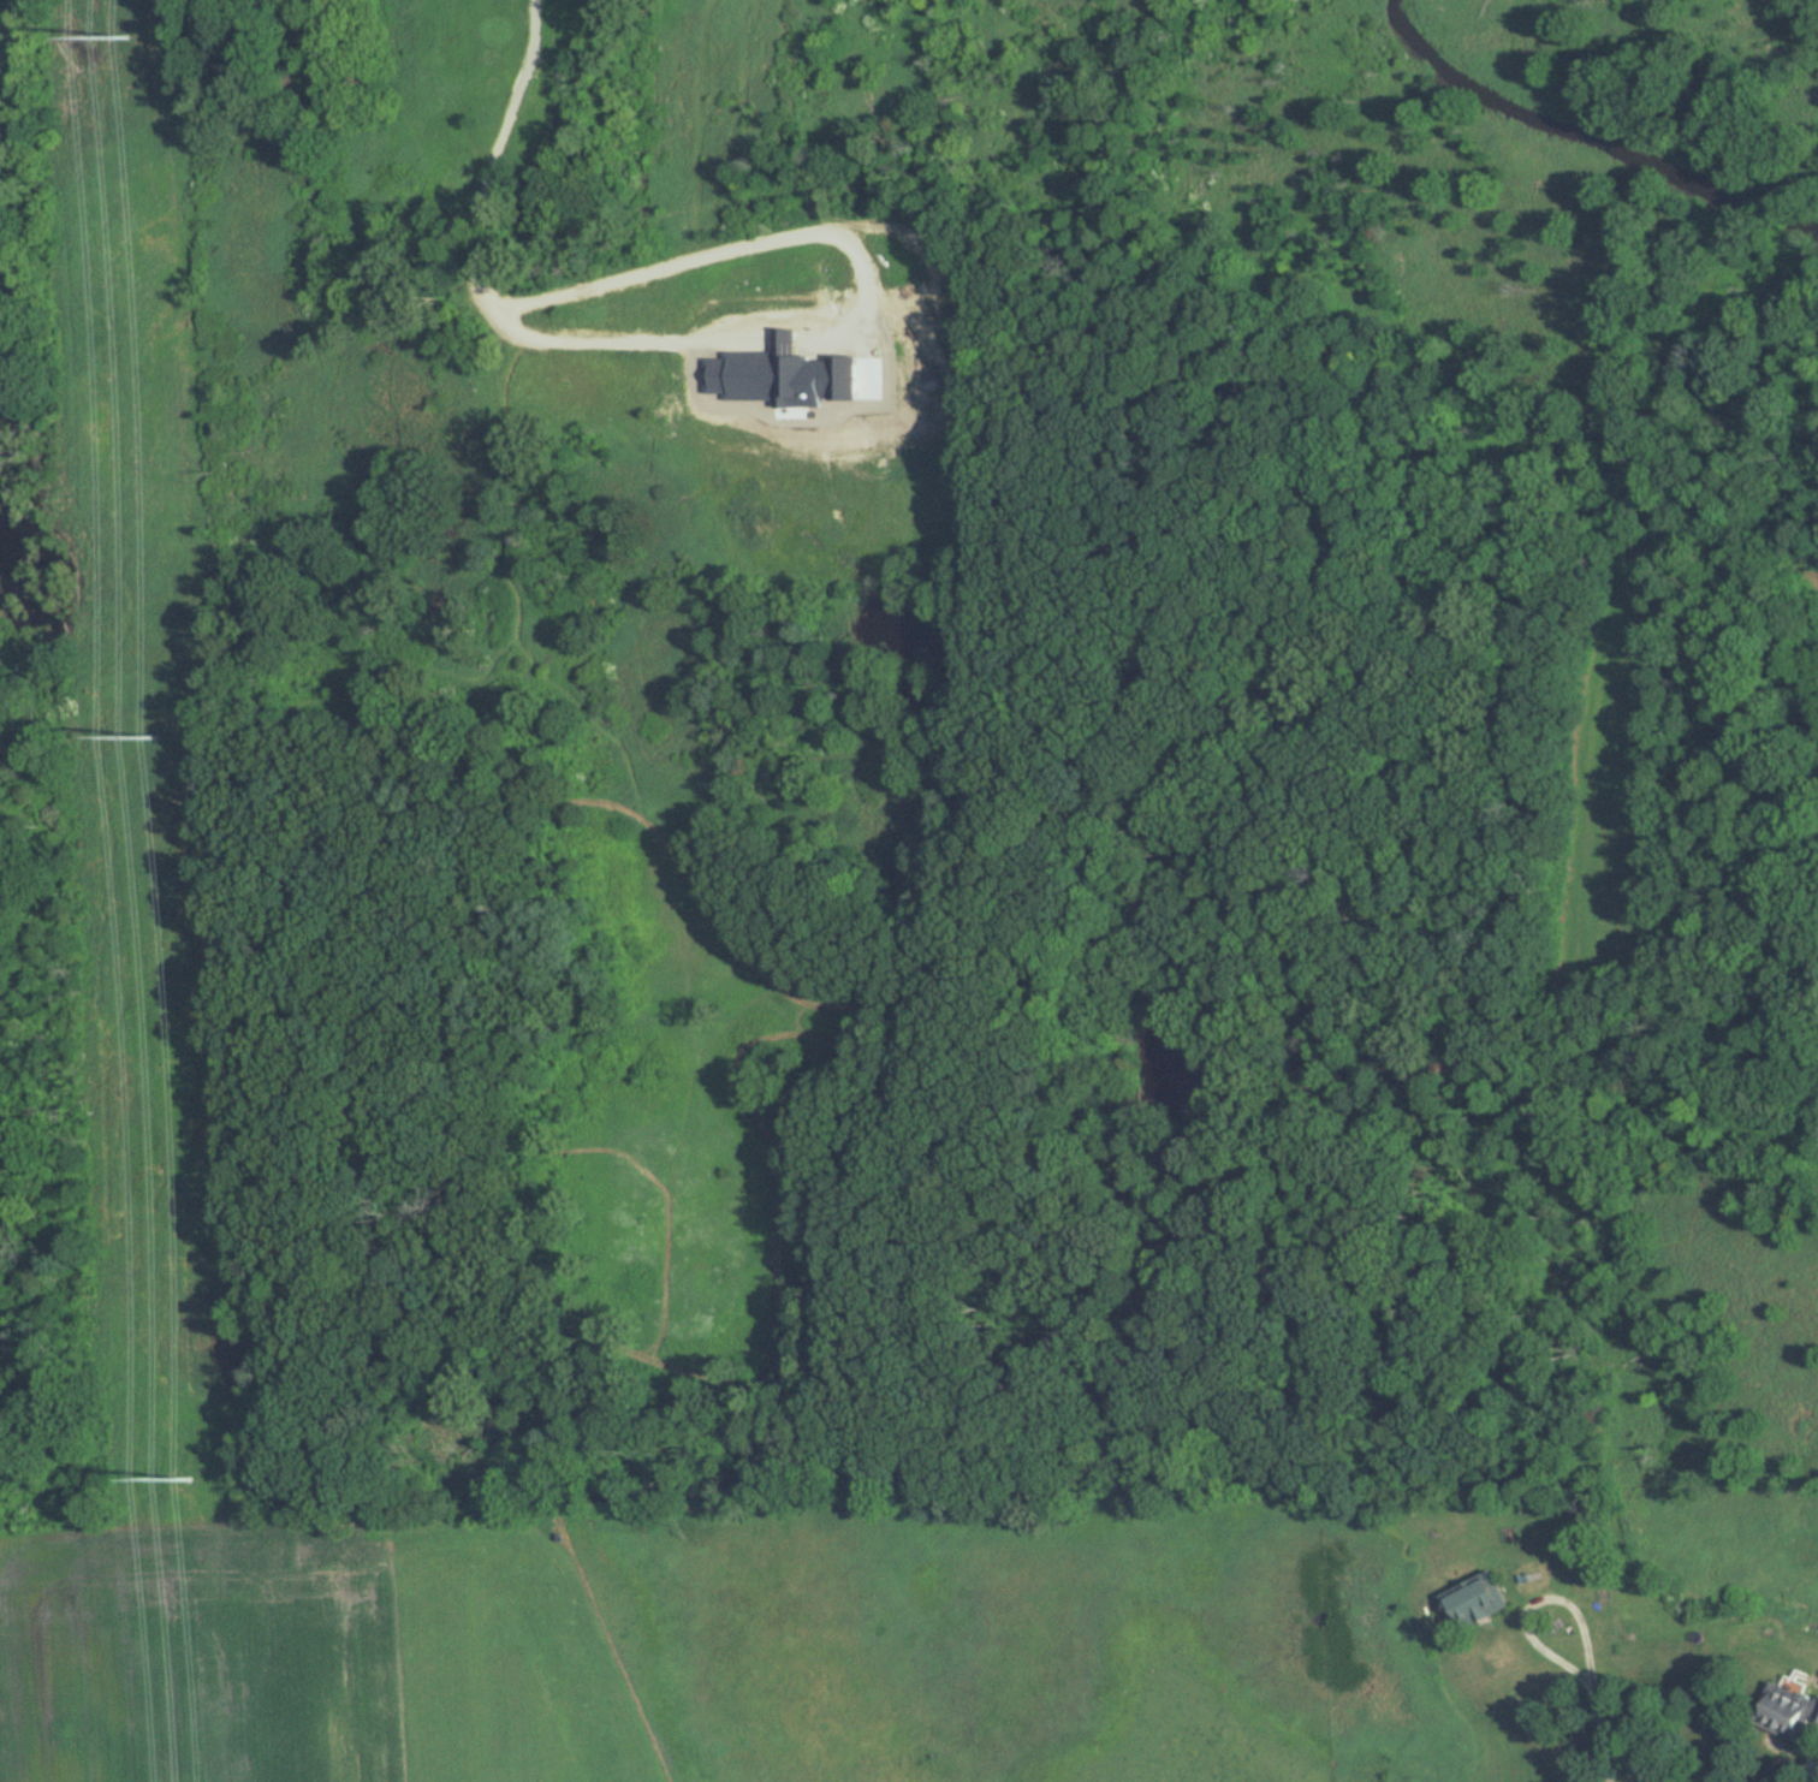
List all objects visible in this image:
power tower: (126, 36)
road: (522, 97)
power tower: (156, 733)
power tower: (191, 1479)
building: (1473, 1600)
road: (1539, 1602)
building: (1786, 1709)
road: (1597, 1731)

